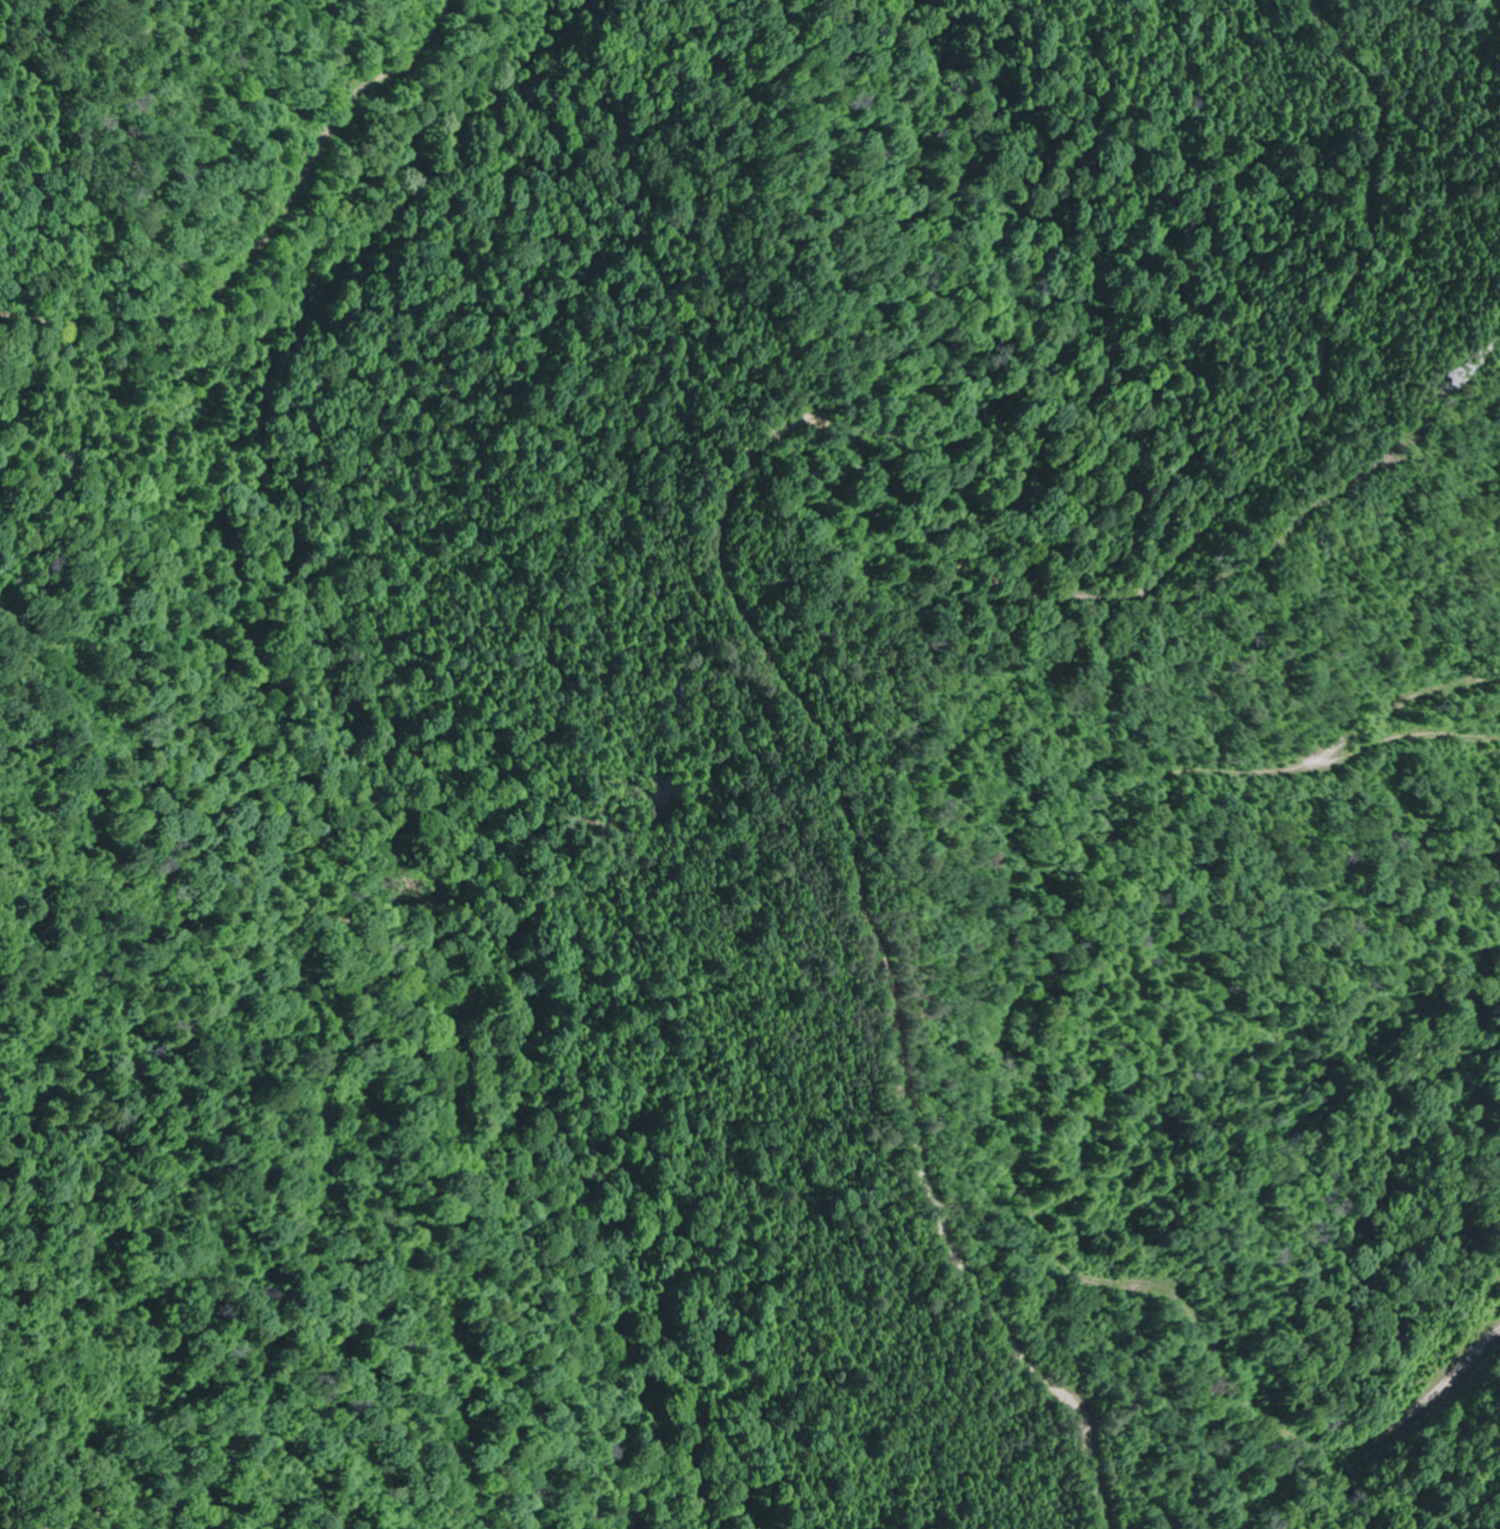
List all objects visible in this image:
building: (1469, 377)

